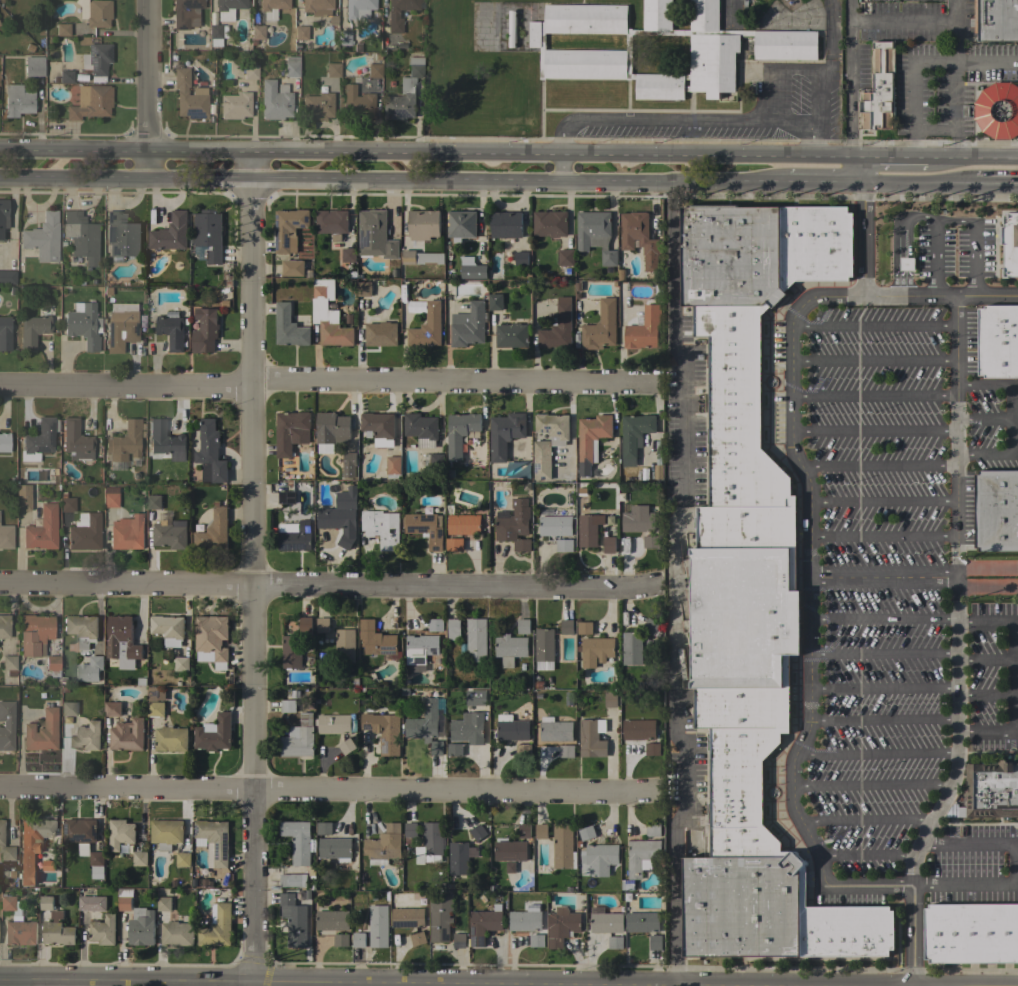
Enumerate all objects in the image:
building: (272, 4)
building: (748, 6)
building: (317, 7)
building: (227, 8)
building: (358, 8)
road: (732, 10)
building: (95, 12)
building: (183, 12)
building: (393, 13)
road: (903, 20)
building: (996, 20)
building: (62, 29)
building: (511, 29)
building: (300, 32)
building: (217, 33)
building: (255, 35)
building: (343, 37)
building: (585, 51)
building: (96, 60)
road: (916, 61)
building: (34, 65)
building: (291, 66)
building: (333, 69)
building: (374, 70)
building: (250, 71)
building: (66, 76)
road: (820, 78)
road: (955, 79)
road: (851, 80)
road: (149, 88)
building: (879, 89)
building: (404, 93)
building: (81, 94)
building: (188, 95)
building: (17, 100)
building: (274, 100)
building: (92, 103)
building: (357, 103)
building: (235, 105)
building: (317, 105)
building: (998, 110)
rooftop solar panel: (193, 113)
road: (686, 118)
road: (791, 118)
road: (426, 156)
road: (972, 158)
road: (890, 160)
road: (391, 182)
road: (821, 183)
road: (915, 184)
road: (996, 185)
building: (3, 215)
rooftop solar panel: (110, 215)
road: (954, 220)
building: (332, 223)
building: (550, 224)
building: (423, 225)
building: (461, 225)
building: (506, 225)
road: (859, 227)
building: (289, 229)
building: (170, 233)
rooftop solar panel: (111, 234)
building: (122, 234)
building: (595, 234)
building: (375, 235)
building: (81, 236)
building: (207, 236)
building: (43, 237)
rooftop solar panel: (366, 238)
building: (639, 238)
road: (895, 241)
building: (1010, 244)
rooftop solar panel: (114, 250)
building: (349, 255)
building: (421, 257)
road: (936, 257)
building: (521, 258)
building: (565, 258)
road: (975, 260)
building: (907, 263)
building: (293, 268)
building: (472, 268)
building: (8, 277)
building: (320, 289)
building: (364, 289)
road: (988, 295)
building: (495, 301)
building: (415, 306)
building: (83, 324)
building: (121, 325)
building: (289, 327)
building: (427, 327)
building: (469, 327)
building: (558, 327)
building: (600, 327)
road: (874, 328)
building: (644, 329)
building: (32, 330)
building: (205, 330)
building: (170, 331)
building: (335, 331)
building: (5, 333)
building: (381, 334)
building: (512, 335)
building: (998, 341)
road: (874, 362)
road: (330, 385)
road: (874, 395)
road: (1011, 404)
road: (792, 409)
building: (332, 428)
building: (378, 428)
rooftop solar panel: (548, 428)
building: (421, 429)
road: (874, 430)
building: (291, 432)
building: (505, 433)
building: (460, 434)
building: (634, 435)
building: (40, 439)
building: (76, 440)
building: (125, 440)
building: (166, 440)
building: (591, 440)
building: (4, 441)
building: (548, 442)
building: (210, 453)
road: (1000, 453)
building: (434, 463)
building: (349, 464)
road: (875, 464)
building: (393, 466)
rooftop solar panel: (538, 466)
building: (658, 472)
rooftop solar panel: (544, 477)
building: (22, 496)
building: (286, 497)
building: (110, 498)
building: (153, 502)
road: (882, 503)
building: (68, 504)
building: (996, 511)
building: (638, 519)
building: (461, 522)
building: (339, 524)
building: (555, 526)
building: (42, 528)
building: (381, 528)
building: (425, 528)
building: (512, 529)
building: (587, 529)
building: (84, 531)
building: (213, 531)
building: (127, 532)
building: (6, 536)
building: (169, 536)
building: (295, 537)
road: (883, 539)
building: (651, 542)
building: (454, 545)
building: (564, 545)
building: (608, 545)
rooftop solar panel: (285, 546)
rooftop solar panel: (299, 547)
road: (988, 569)
road: (253, 570)
road: (884, 571)
road: (676, 583)
road: (883, 583)
road: (327, 587)
road: (987, 588)
building: (752, 590)
road: (957, 597)
road: (884, 619)
building: (436, 624)
road: (985, 624)
building: (4, 625)
building: (305, 625)
building: (323, 625)
building: (523, 626)
building: (650, 626)
building: (567, 627)
building: (585, 628)
building: (81, 629)
building: (168, 629)
building: (453, 629)
building: (35, 634)
building: (120, 639)
building: (376, 639)
building: (211, 640)
building: (476, 640)
building: (345, 646)
building: (419, 648)
building: (632, 648)
rooftop solar panel: (388, 649)
building: (510, 649)
building: (544, 649)
building: (596, 651)
building: (291, 652)
rooftop solar panel: (388, 653)
road: (883, 653)
road: (985, 660)
building: (181, 663)
building: (8, 664)
building: (52, 665)
building: (89, 670)
road: (1013, 677)
road: (883, 689)
building: (156, 693)
road: (985, 696)
building: (474, 698)
building: (610, 700)
building: (287, 706)
rooftop solar panel: (440, 707)
building: (68, 708)
building: (112, 709)
building: (155, 709)
road: (882, 720)
building: (335, 724)
building: (6, 725)
building: (428, 725)
rooftop solar panel: (367, 727)
building: (468, 728)
building: (511, 728)
building: (639, 729)
building: (555, 730)
building: (42, 731)
building: (384, 731)
road: (986, 732)
building: (213, 734)
building: (127, 735)
building: (86, 736)
building: (299, 738)
building: (170, 739)
building: (591, 739)
building: (346, 746)
rooftop solar panel: (385, 747)
building: (652, 749)
building: (454, 750)
building: (566, 751)
road: (877, 753)
road: (790, 774)
road: (871, 785)
building: (990, 790)
road: (329, 791)
road: (866, 821)
building: (324, 828)
building: (653, 830)
building: (541, 831)
building: (410, 832)
building: (478, 832)
building: (524, 832)
building: (80, 833)
building: (166, 833)
building: (586, 833)
building: (120, 834)
building: (432, 839)
building: (297, 840)
building: (214, 841)
building: (383, 845)
building: (32, 846)
building: (5, 847)
building: (563, 847)
building: (335, 849)
building: (509, 853)
building: (641, 855)
road: (864, 856)
building: (425, 857)
building: (458, 858)
building: (140, 859)
building: (183, 859)
building: (601, 859)
building: (96, 862)
building: (48, 866)
road: (1014, 868)
building: (290, 880)
building: (193, 883)
building: (627, 885)
building: (125, 899)
building: (7, 902)
building: (92, 903)
building: (164, 904)
building: (408, 917)
building: (440, 917)
building: (296, 921)
building: (331, 921)
building: (525, 921)
building: (606, 922)
building: (643, 922)
building: (55, 925)
building: (484, 925)
building: (378, 926)
building: (561, 926)
building: (141, 927)
building: (217, 927)
building: (103, 930)
rooftop solar panel: (473, 930)
building: (19, 931)
building: (971, 933)
building: (177, 934)
building: (418, 938)
rooftop solar panel: (481, 939)
building: (340, 940)
building: (359, 940)
building: (459, 940)
building: (537, 941)
rooftop solar panel: (472, 942)
building: (656, 942)
building: (615, 943)
road: (293, 982)

